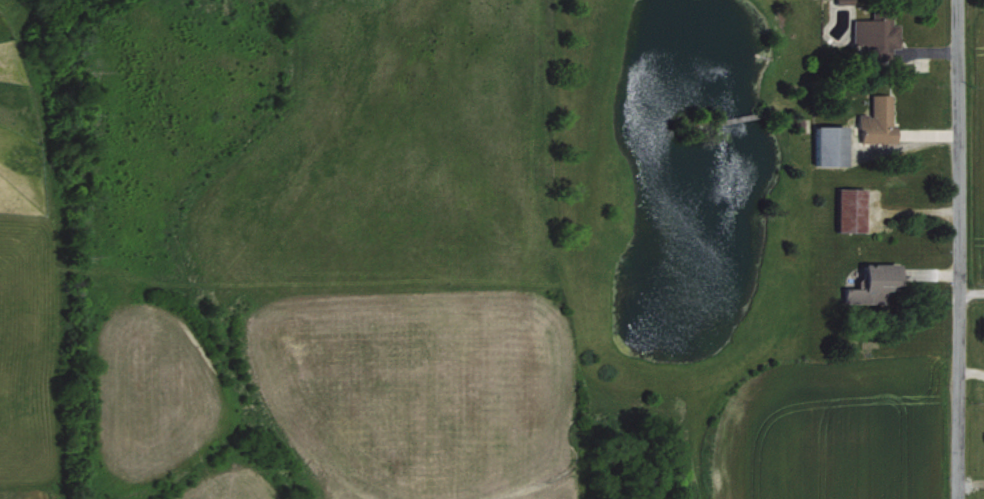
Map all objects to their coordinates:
building: (843, 0)
building: (875, 35)
building: (878, 119)
building: (832, 144)
building: (852, 208)
road: (953, 249)
building: (873, 282)
road: (969, 288)

